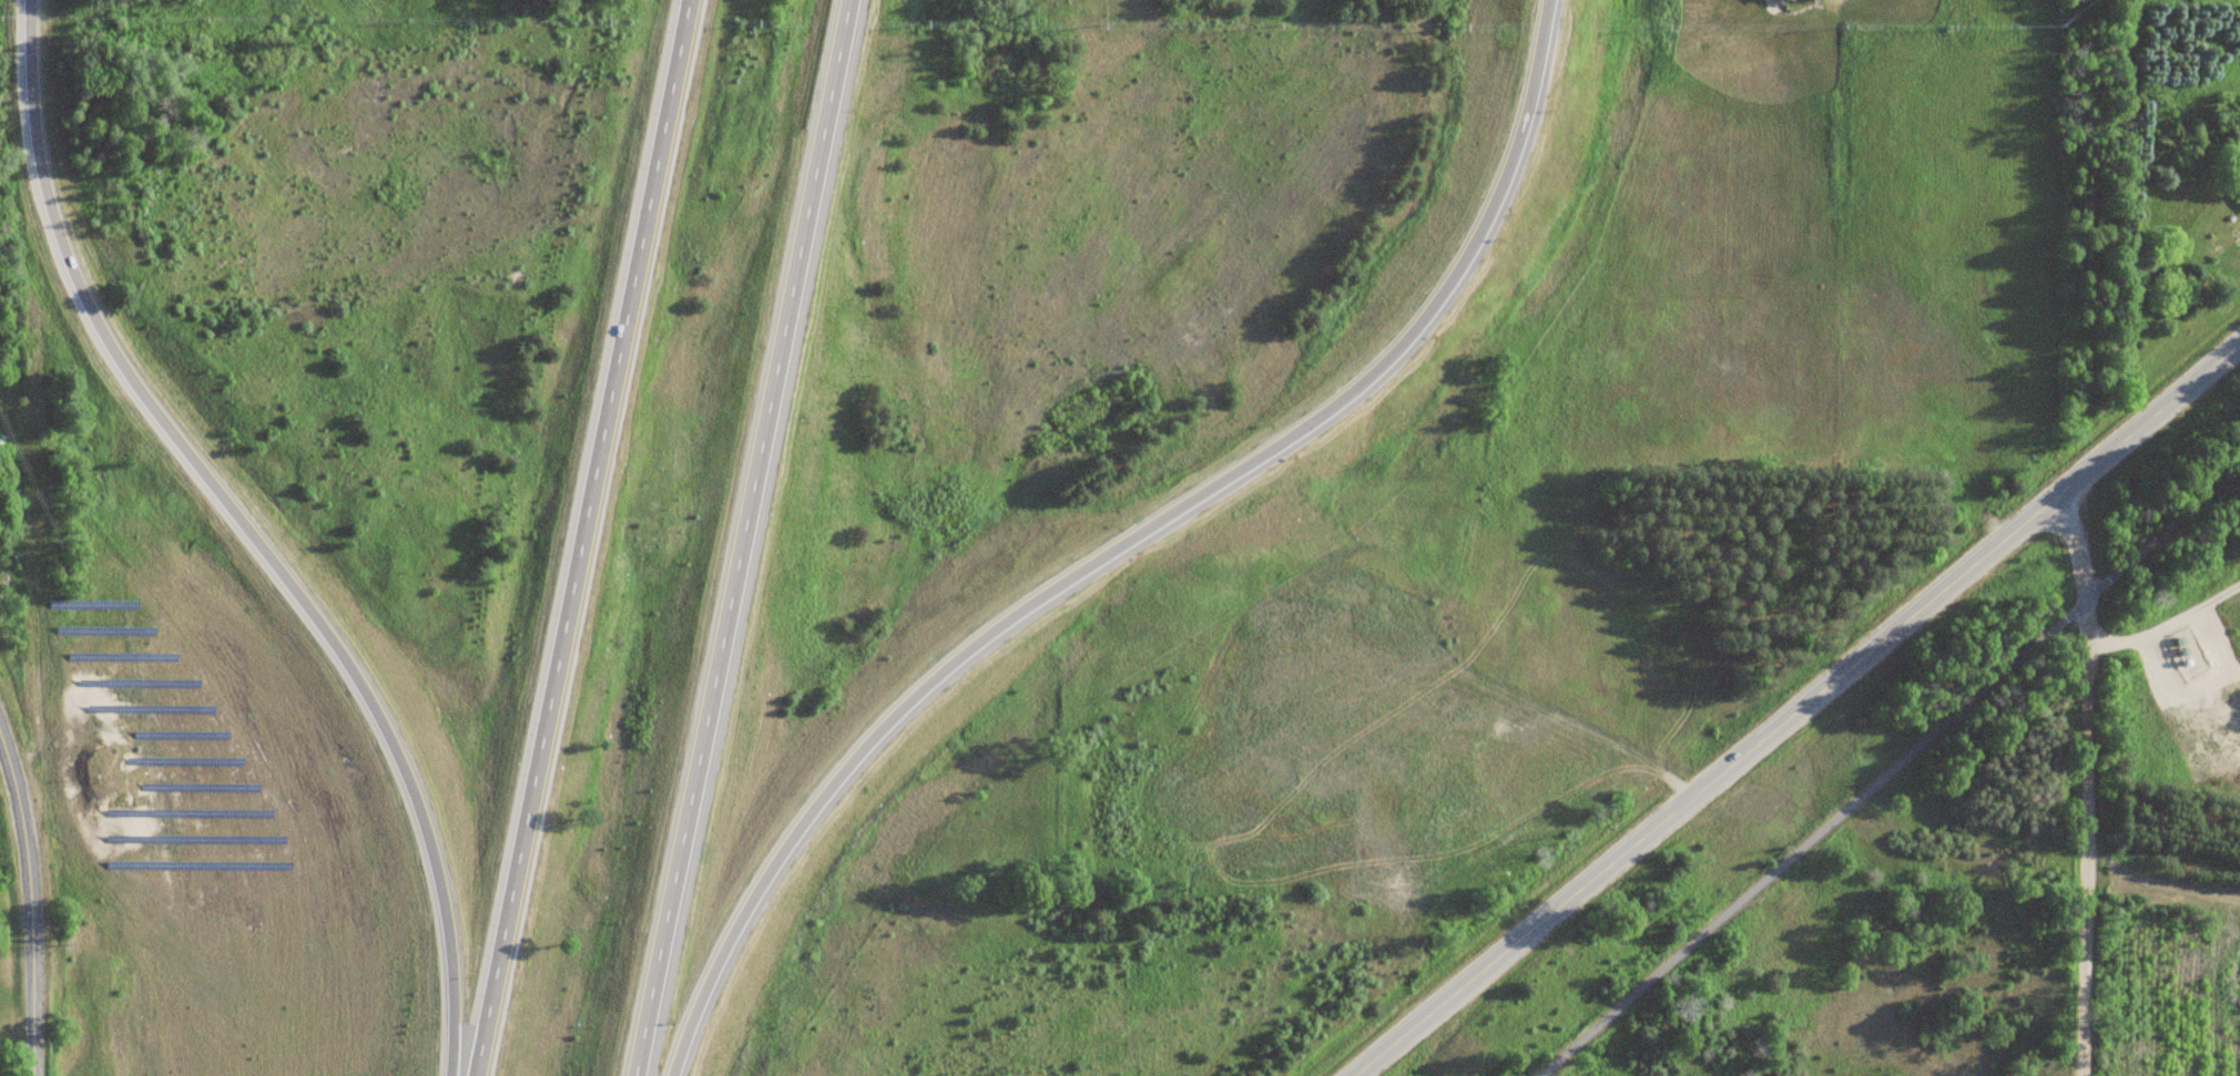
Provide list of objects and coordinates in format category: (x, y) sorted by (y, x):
building: (1792, 0)
building: (2238, 198)
building: (2226, 243)
road: (251, 533)
road: (582, 537)
road: (741, 537)
road: (1126, 542)
road: (2147, 632)
road: (1800, 710)
road: (1883, 775)
road: (2087, 782)
building: (1148, 787)
road: (24, 914)

